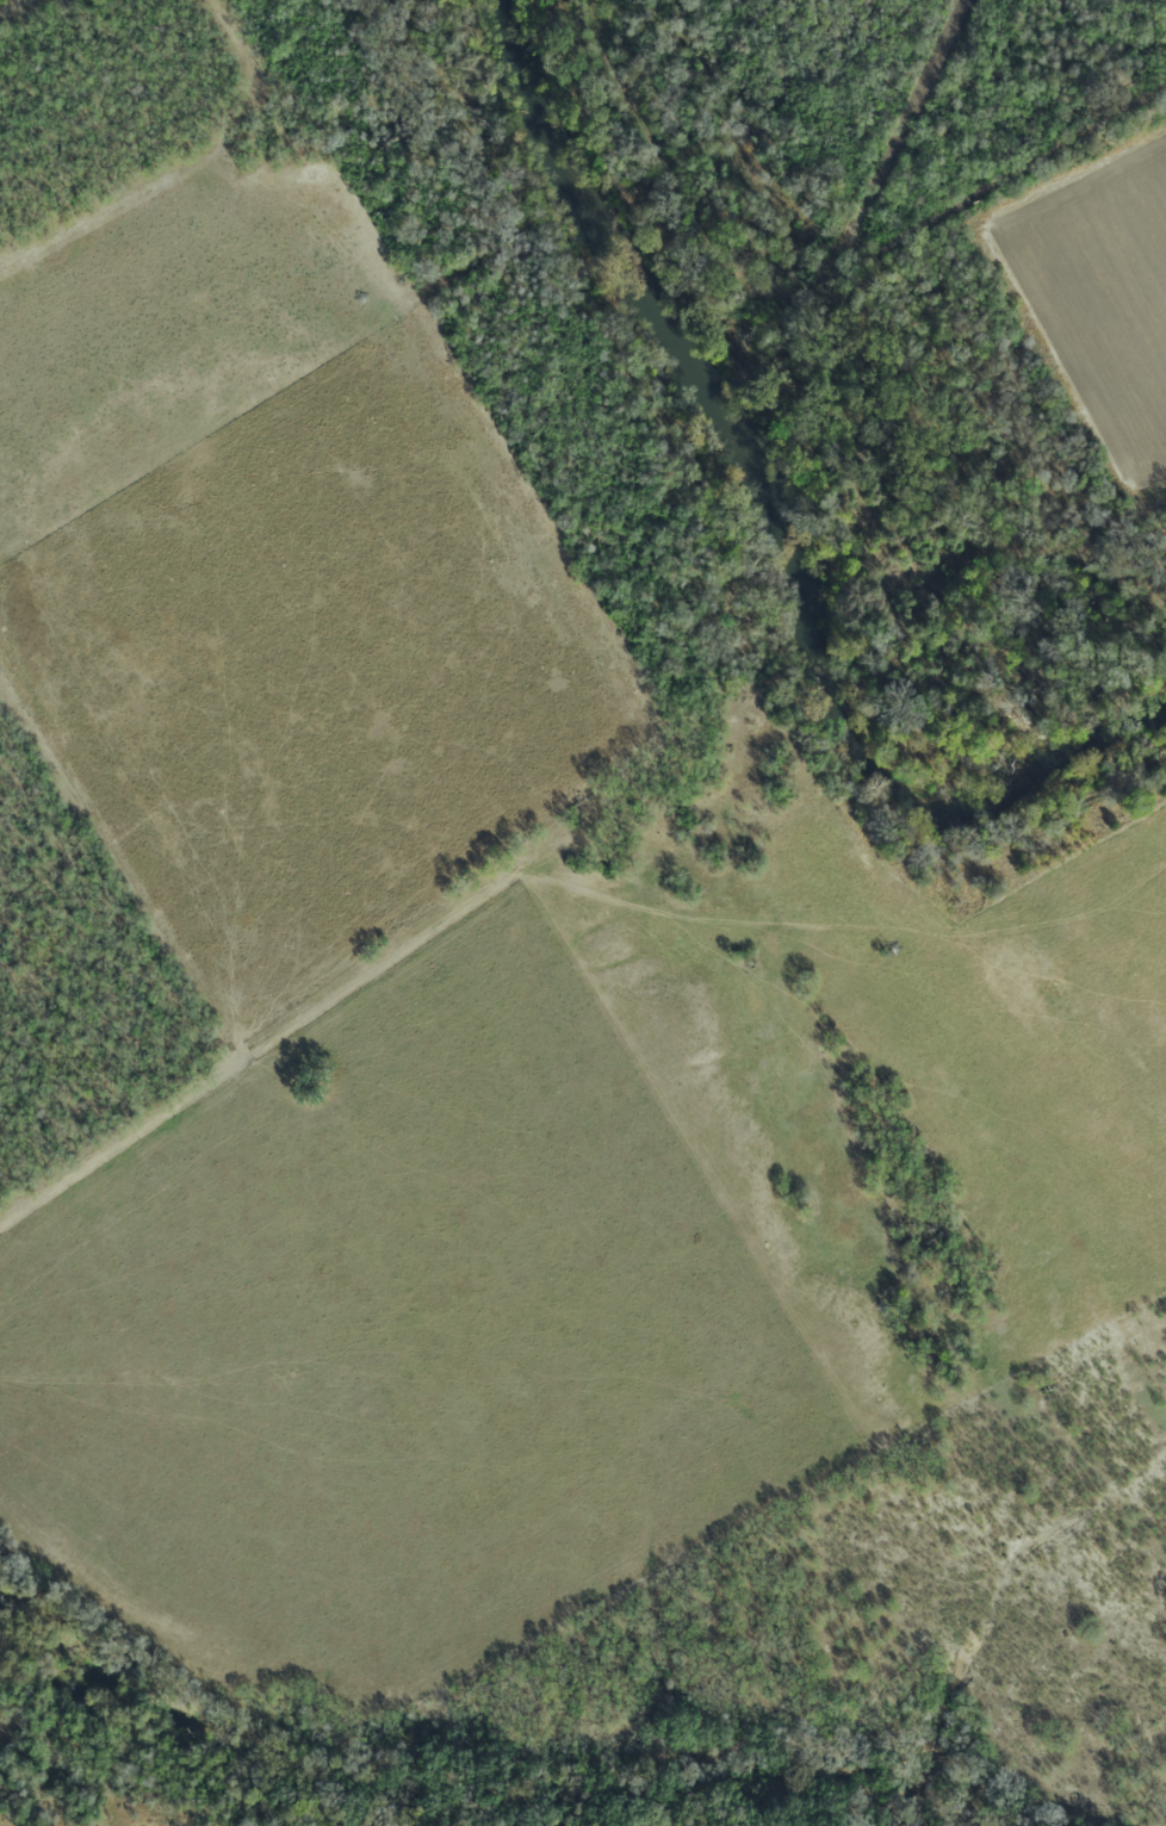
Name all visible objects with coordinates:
river: (776, 517)

